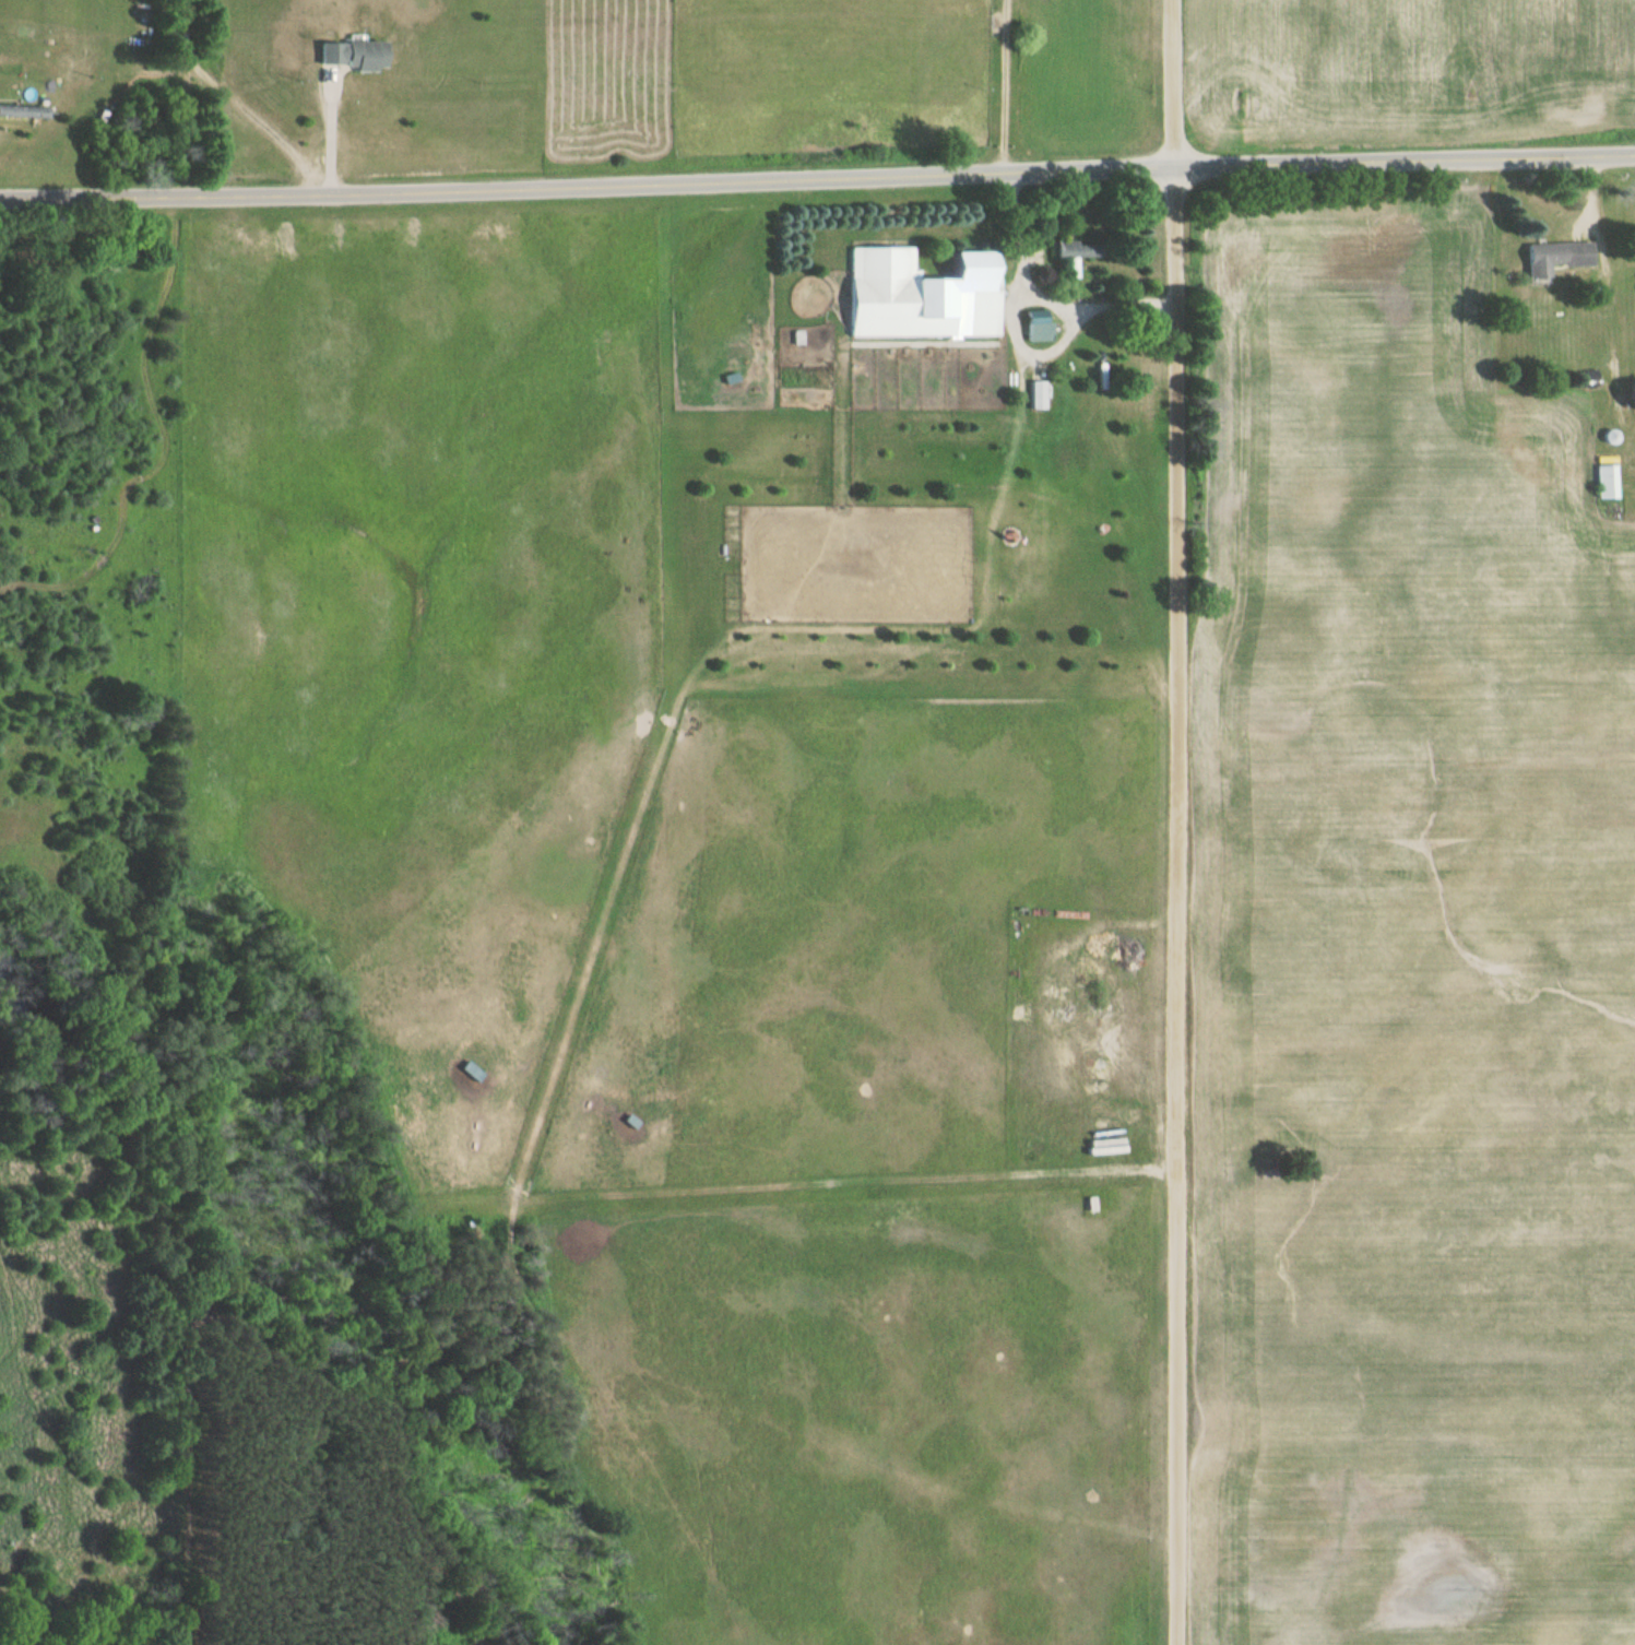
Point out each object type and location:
building: (341, 57)
building: (19, 114)
road: (327, 131)
road: (817, 180)
building: (1062, 251)
building: (1550, 259)
building: (915, 297)
building: (1032, 328)
building: (1627, 397)
building: (1603, 483)
road: (1174, 821)

